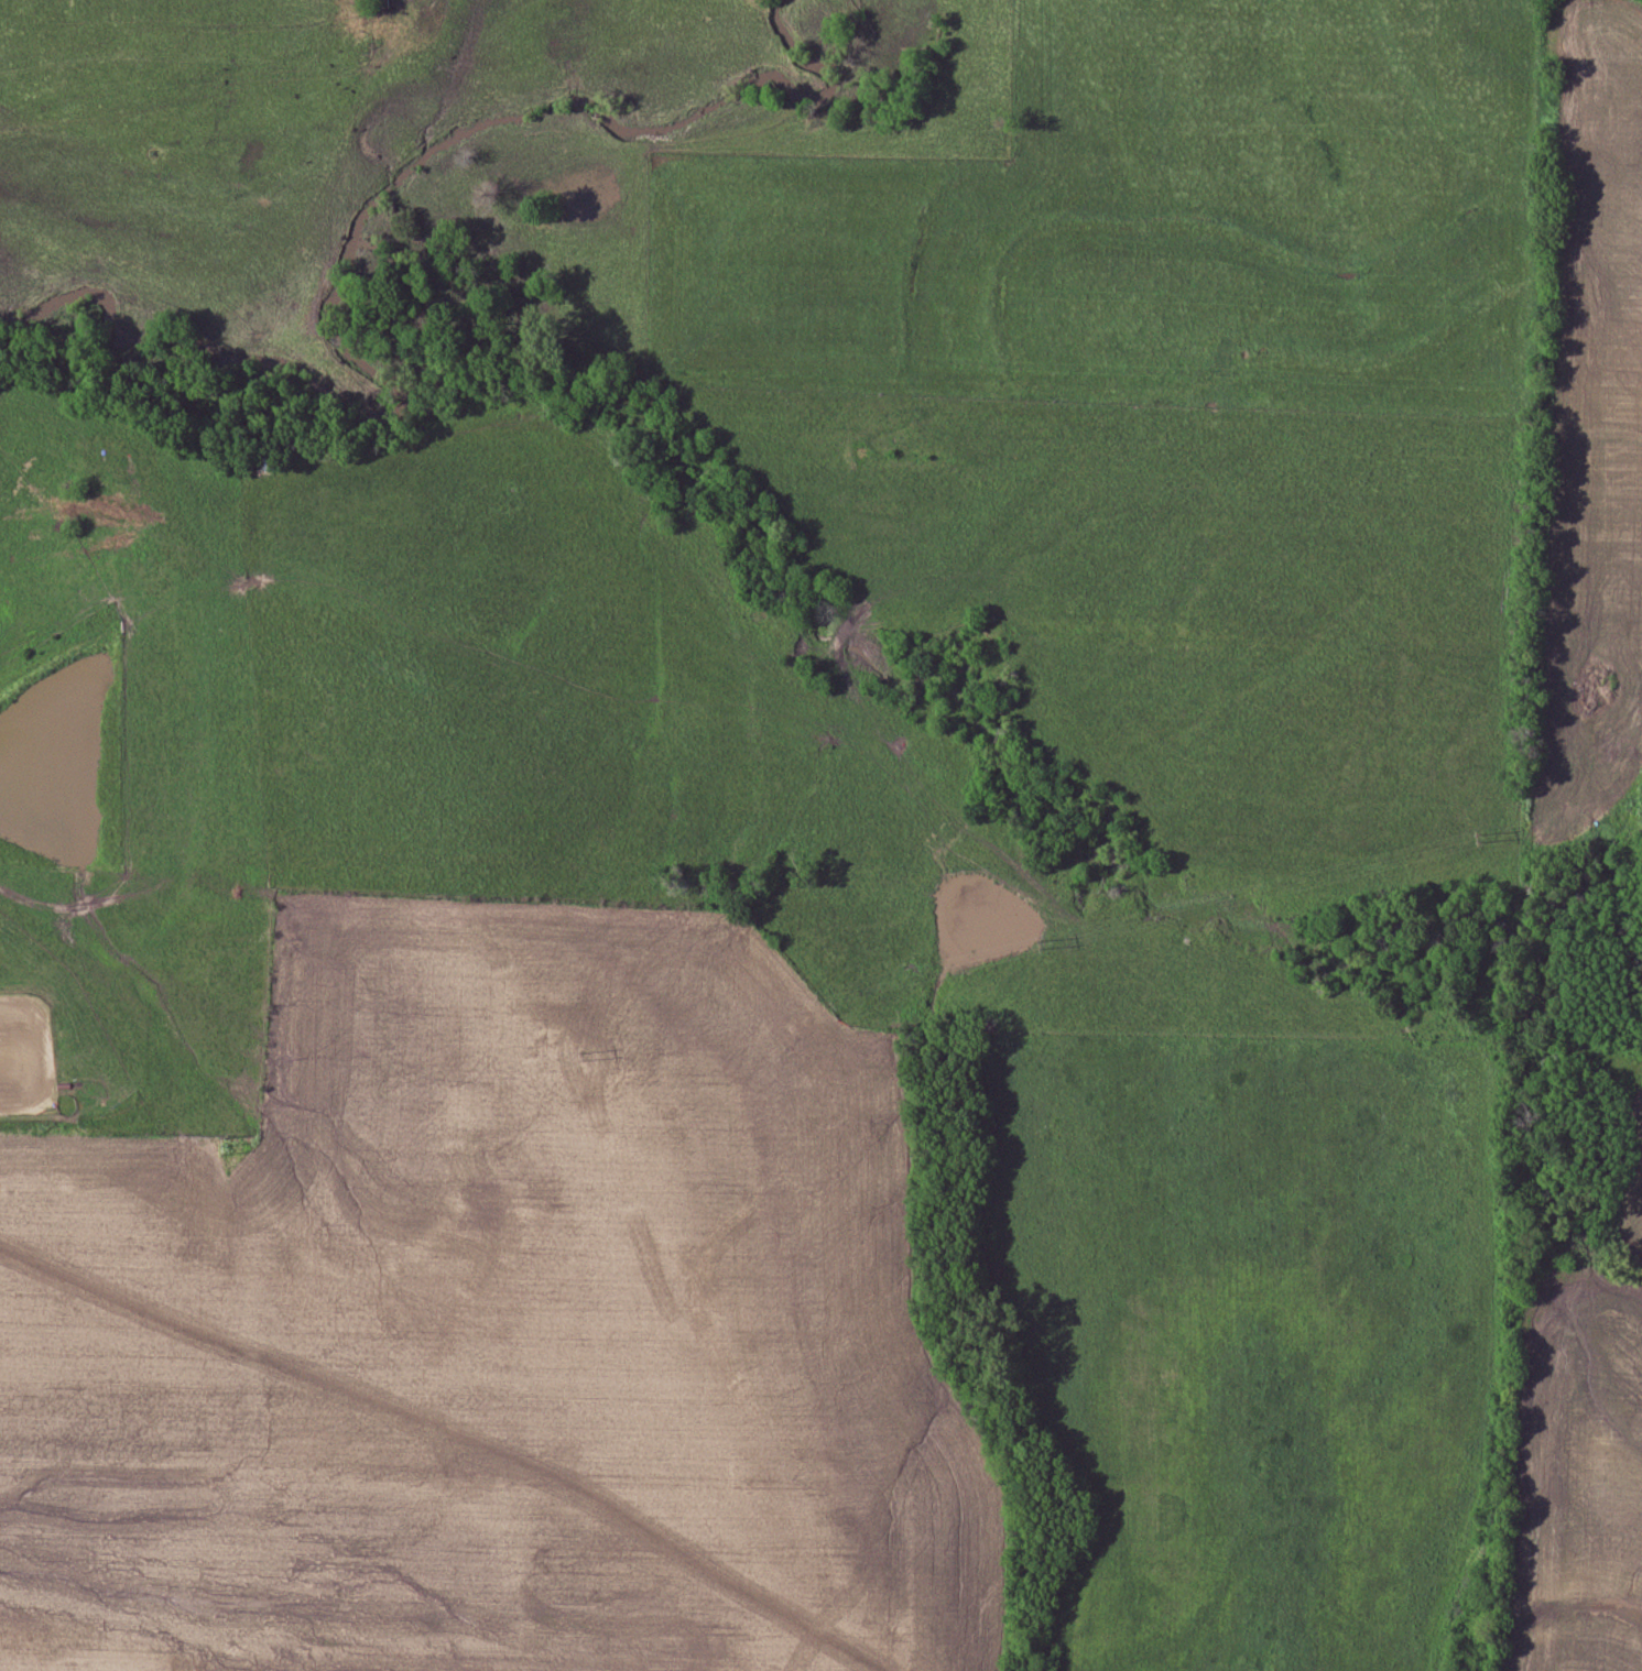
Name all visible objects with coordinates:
power tower: (1472, 839)
power tower: (1032, 943)
power tower: (585, 1058)
power tower: (224, 1146)

